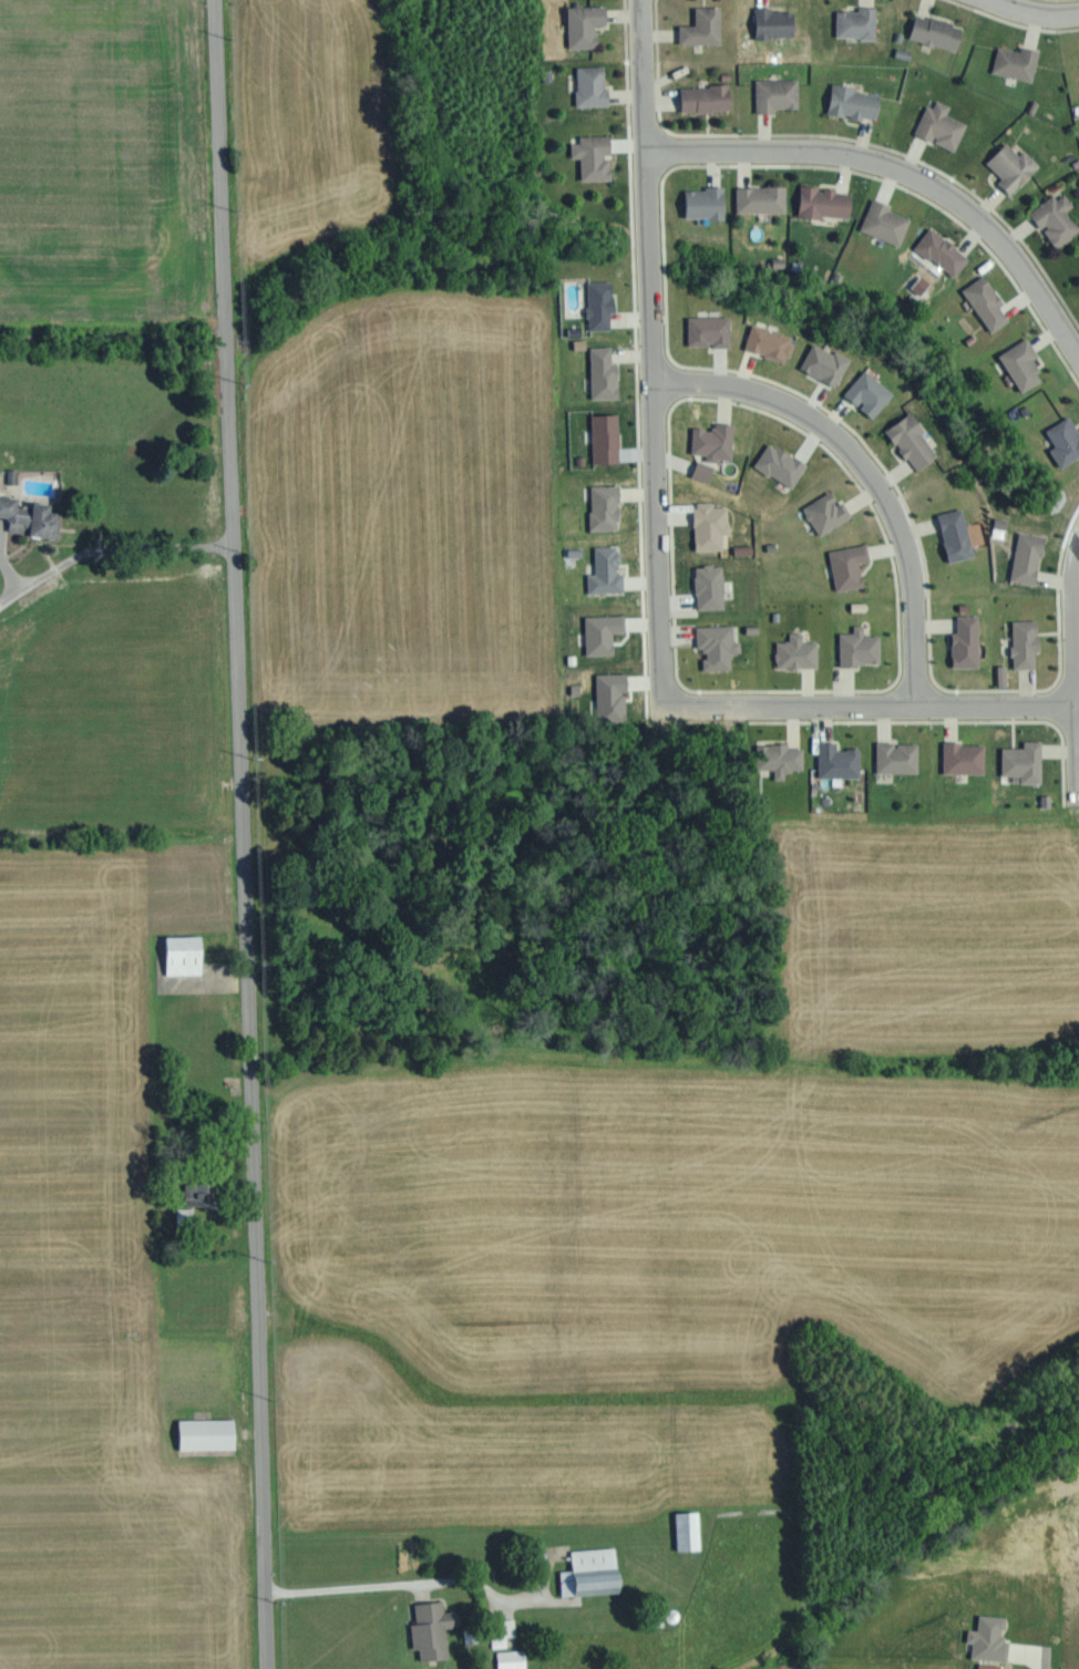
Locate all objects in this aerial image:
road: (1032, 14)
building: (775, 22)
building: (859, 22)
building: (586, 25)
building: (705, 27)
building: (938, 32)
building: (1019, 62)
road: (644, 75)
building: (593, 85)
building: (779, 94)
building: (708, 97)
building: (856, 102)
building: (943, 125)
building: (595, 156)
building: (1015, 165)
road: (903, 176)
building: (763, 199)
building: (708, 203)
building: (826, 203)
building: (1058, 217)
building: (887, 223)
building: (944, 250)
building: (988, 300)
building: (602, 302)
building: (710, 330)
building: (770, 341)
building: (826, 362)
building: (1024, 363)
building: (605, 372)
building: (870, 392)
road: (654, 424)
building: (607, 436)
building: (716, 440)
building: (1066, 440)
building: (914, 441)
building: (782, 463)
road: (869, 463)
building: (705, 470)
building: (606, 506)
building: (829, 512)
building: (31, 516)
building: (712, 525)
building: (957, 534)
road: (104, 552)
building: (1029, 557)
building: (851, 565)
building: (608, 570)
building: (712, 586)
road: (1072, 612)
building: (605, 631)
building: (968, 641)
building: (1027, 641)
building: (719, 645)
building: (862, 646)
building: (799, 651)
building: (614, 697)
road: (867, 698)
road: (1075, 744)
building: (900, 756)
building: (966, 756)
building: (782, 758)
building: (840, 760)
building: (1025, 761)
road: (240, 801)
building: (185, 954)
building: (196, 1196)
building: (208, 1433)
building: (690, 1529)
building: (593, 1572)
road: (407, 1590)
building: (433, 1629)
building: (505, 1630)
road: (267, 1635)
building: (990, 1638)
building: (514, 1659)

